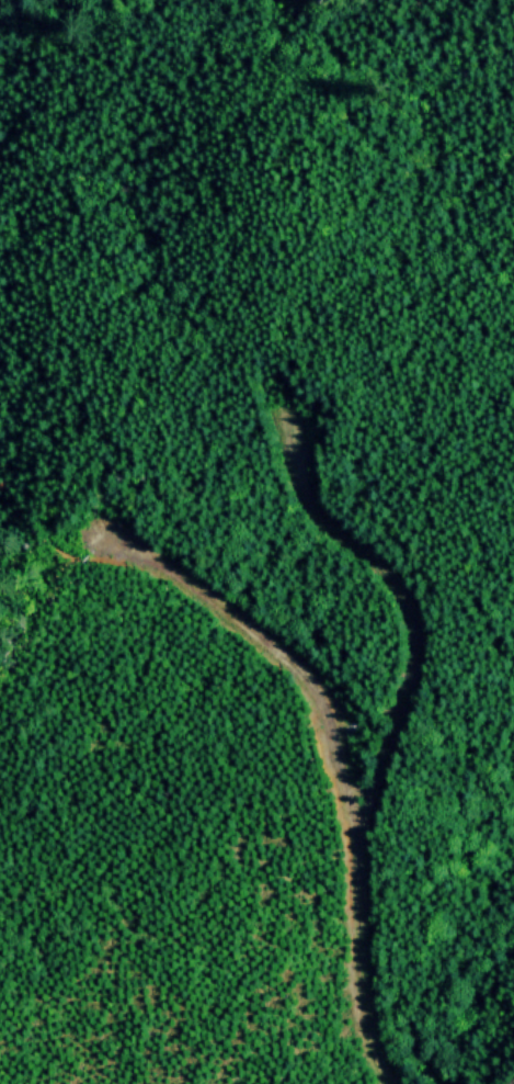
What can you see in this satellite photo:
road: (398, 599)
road: (331, 753)

